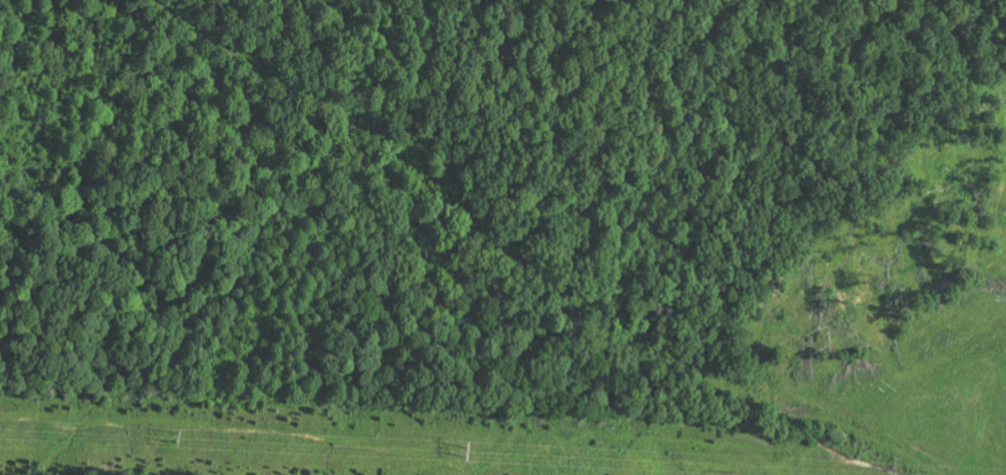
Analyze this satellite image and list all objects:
power tower: (177, 439)
power tower: (467, 453)

